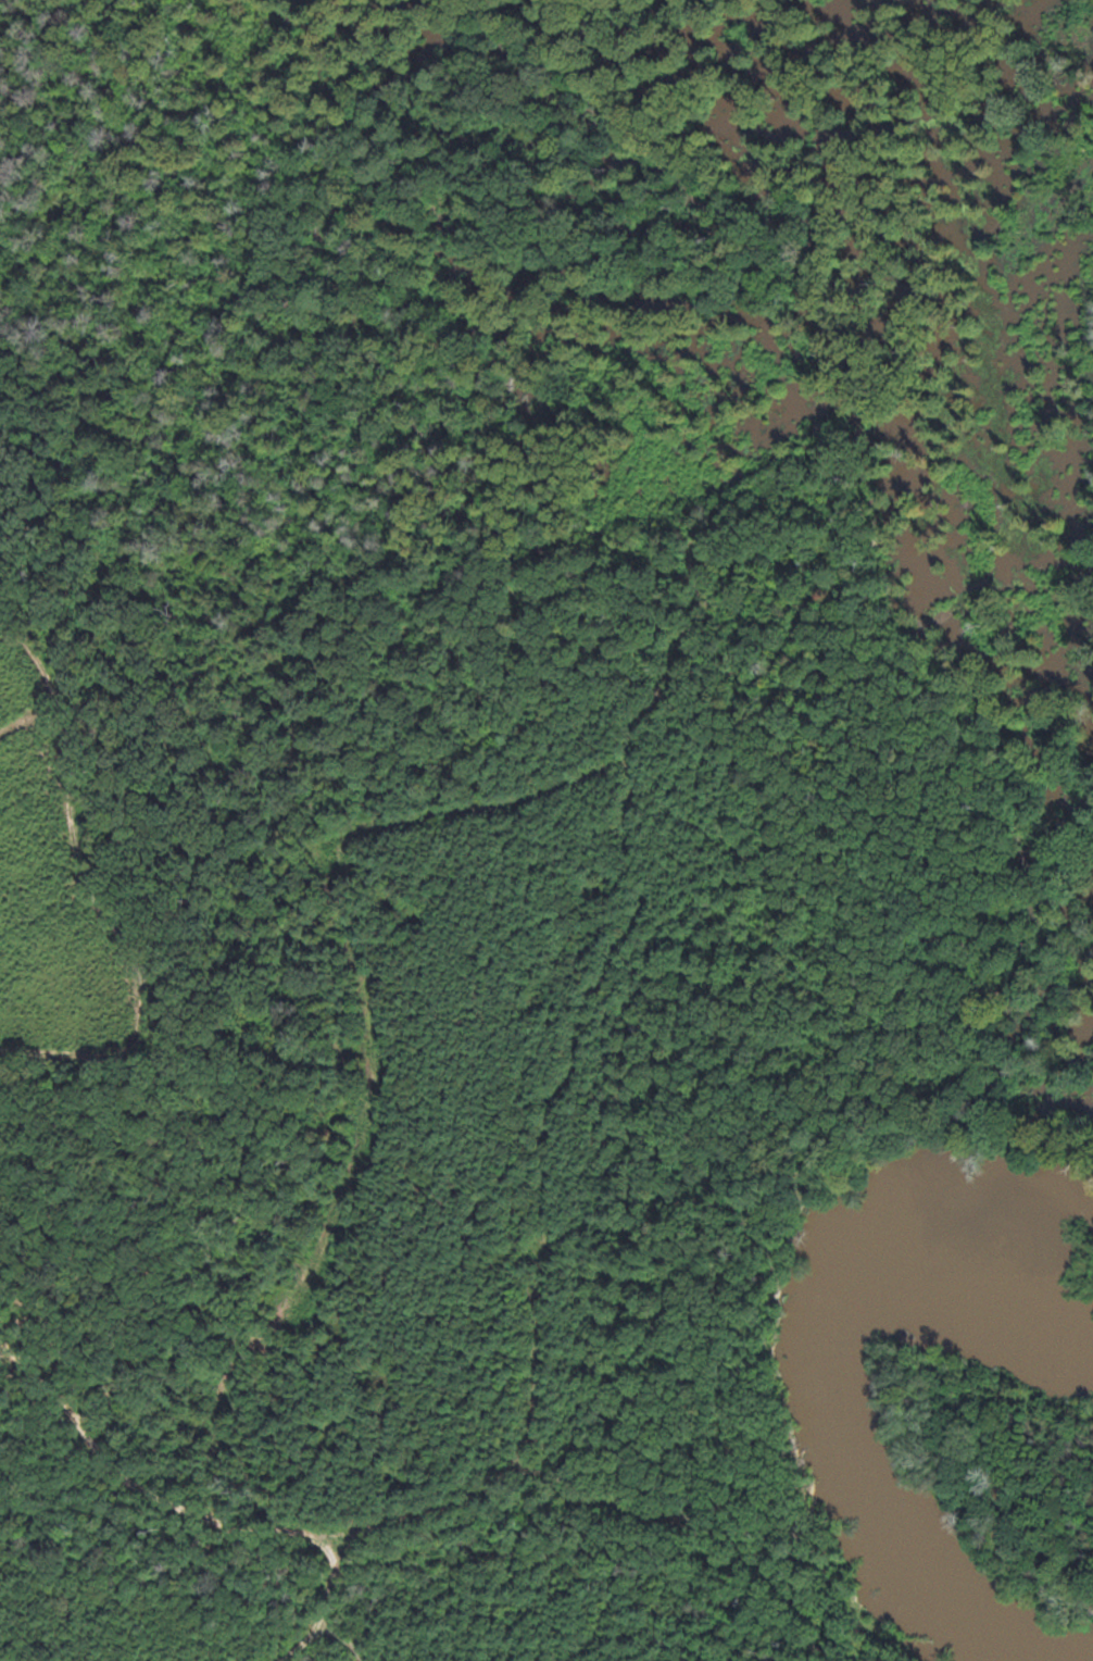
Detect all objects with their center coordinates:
river: (878, 1374)

